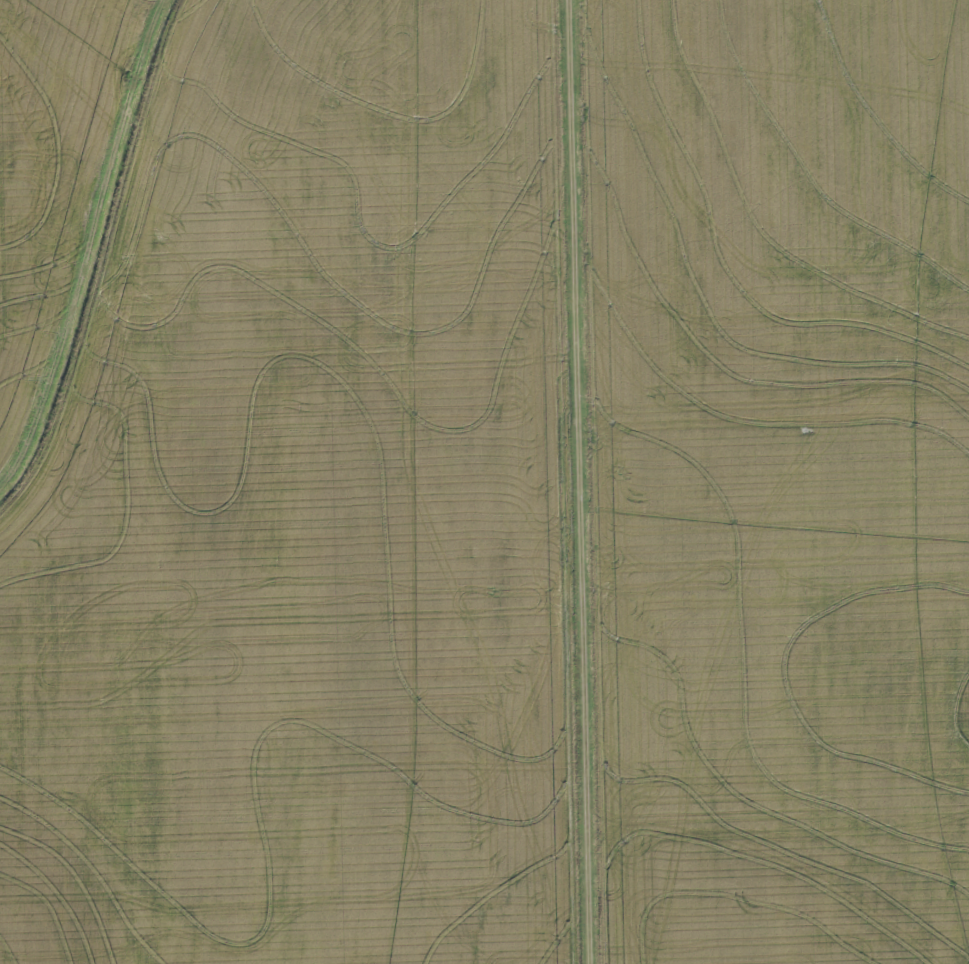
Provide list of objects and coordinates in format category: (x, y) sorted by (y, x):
road: (599, 482)

